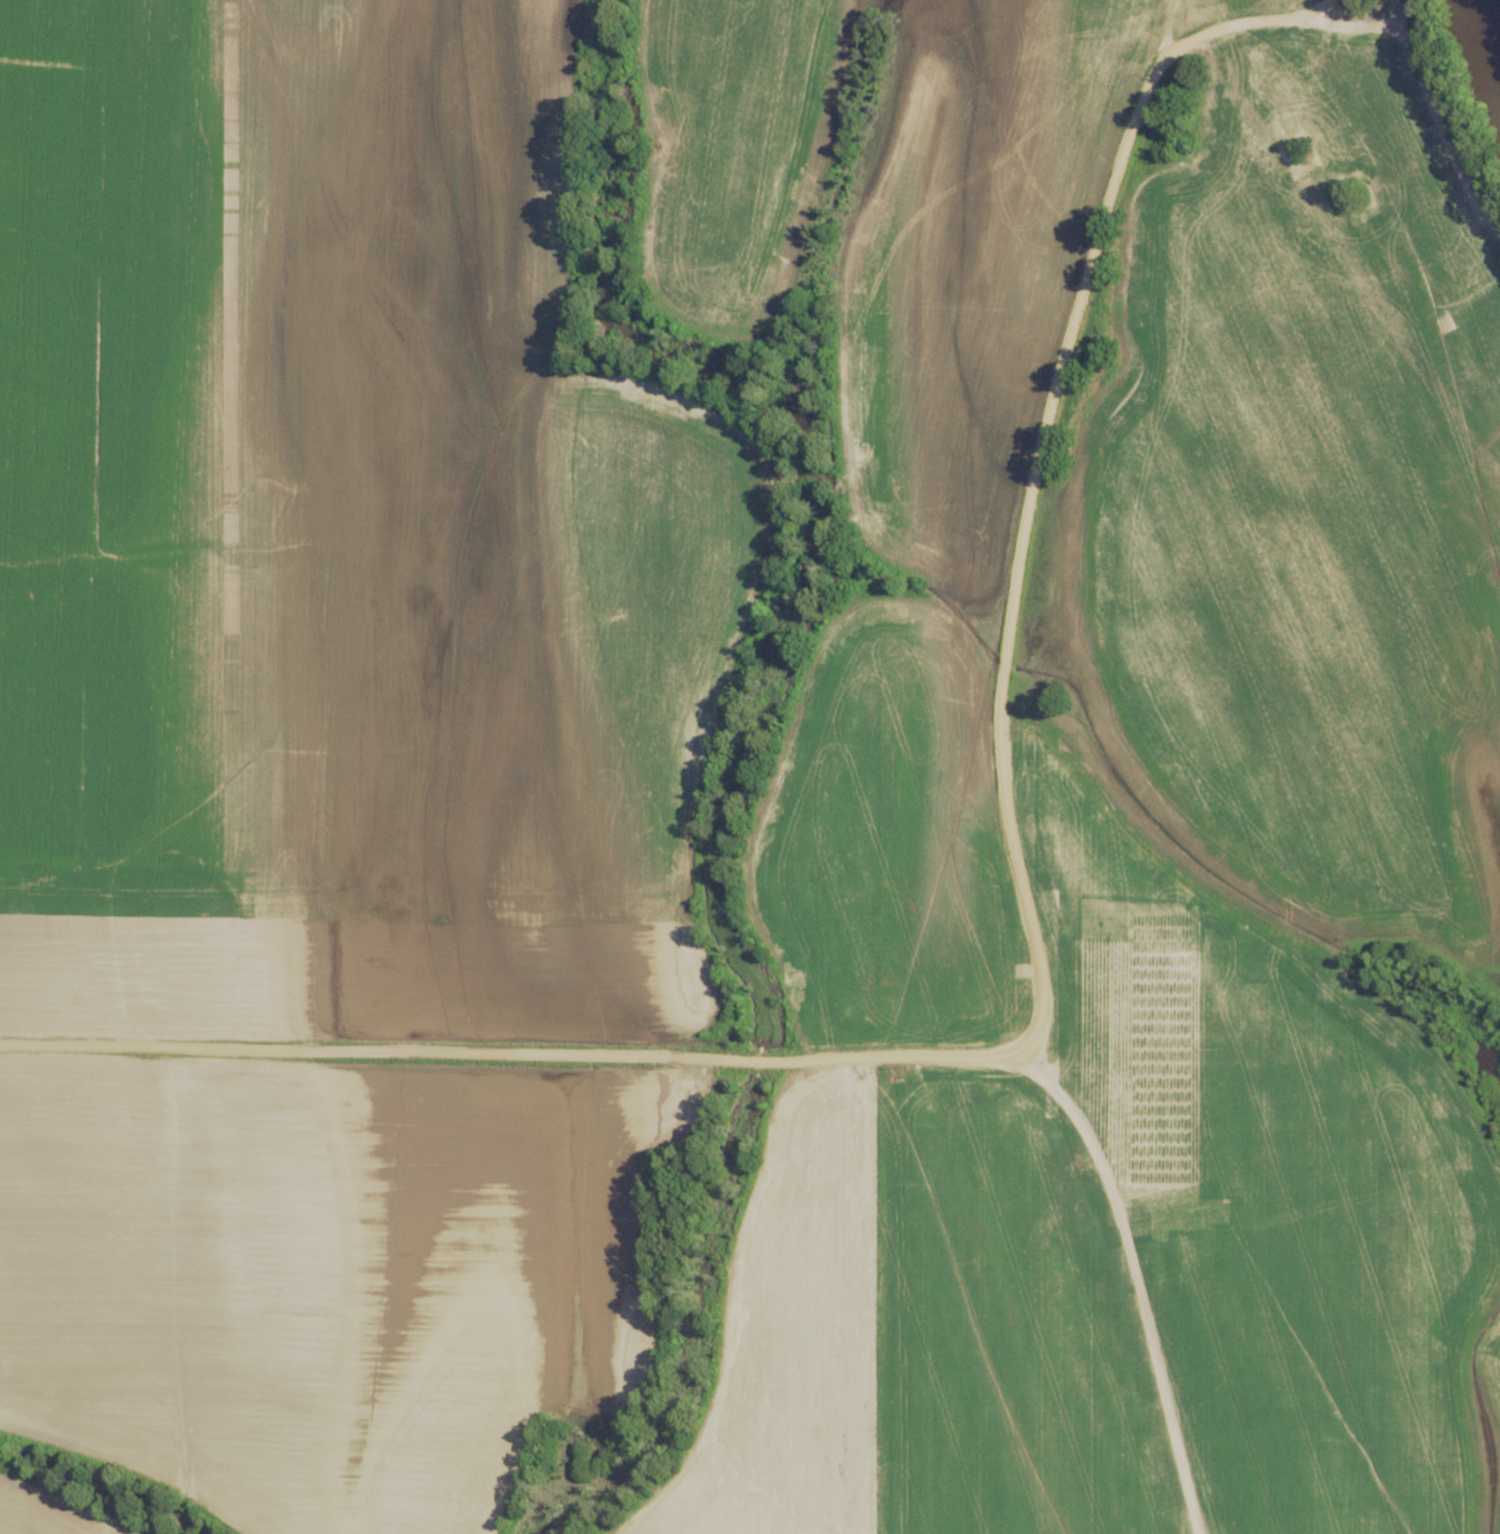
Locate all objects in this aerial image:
road: (1218, 136)
road: (998, 944)
road: (1136, 1244)

